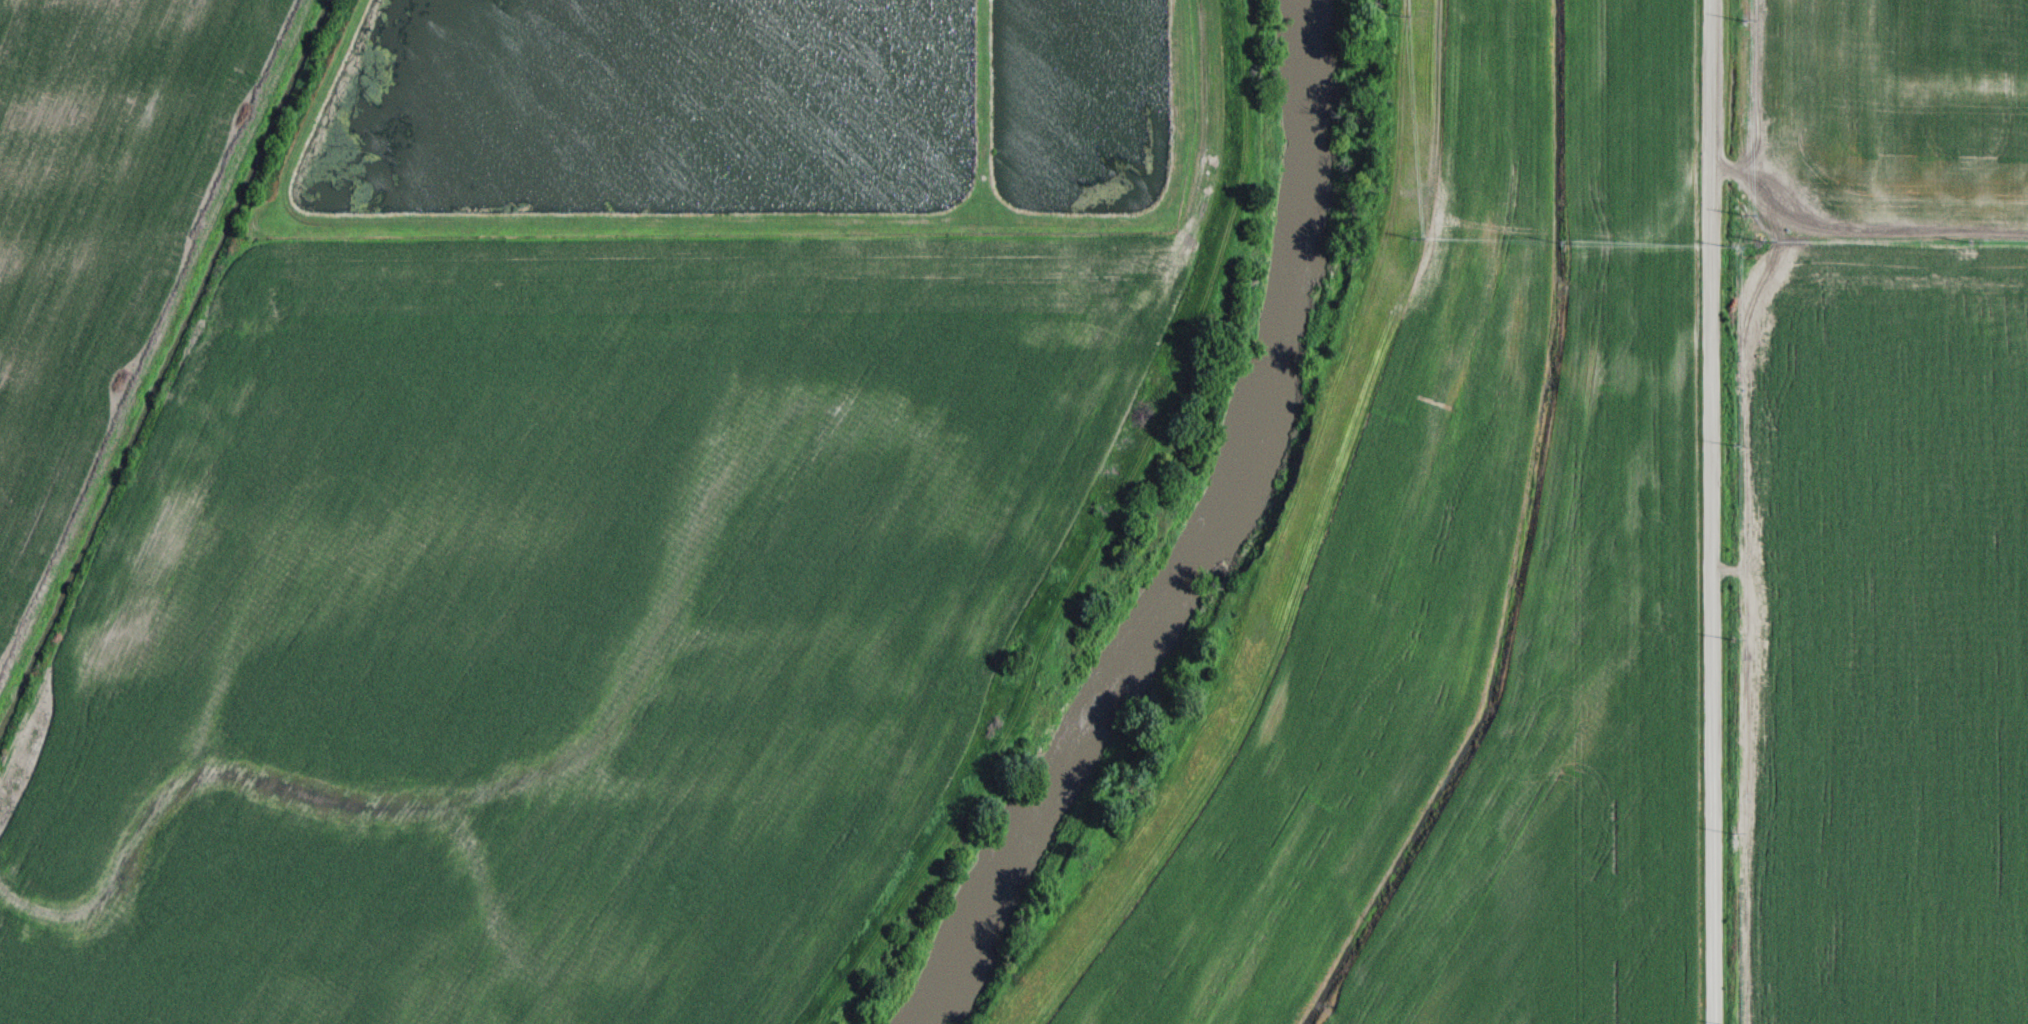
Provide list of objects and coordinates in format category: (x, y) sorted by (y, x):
building: (1110, 186)
road: (1709, 512)
river: (1198, 542)

